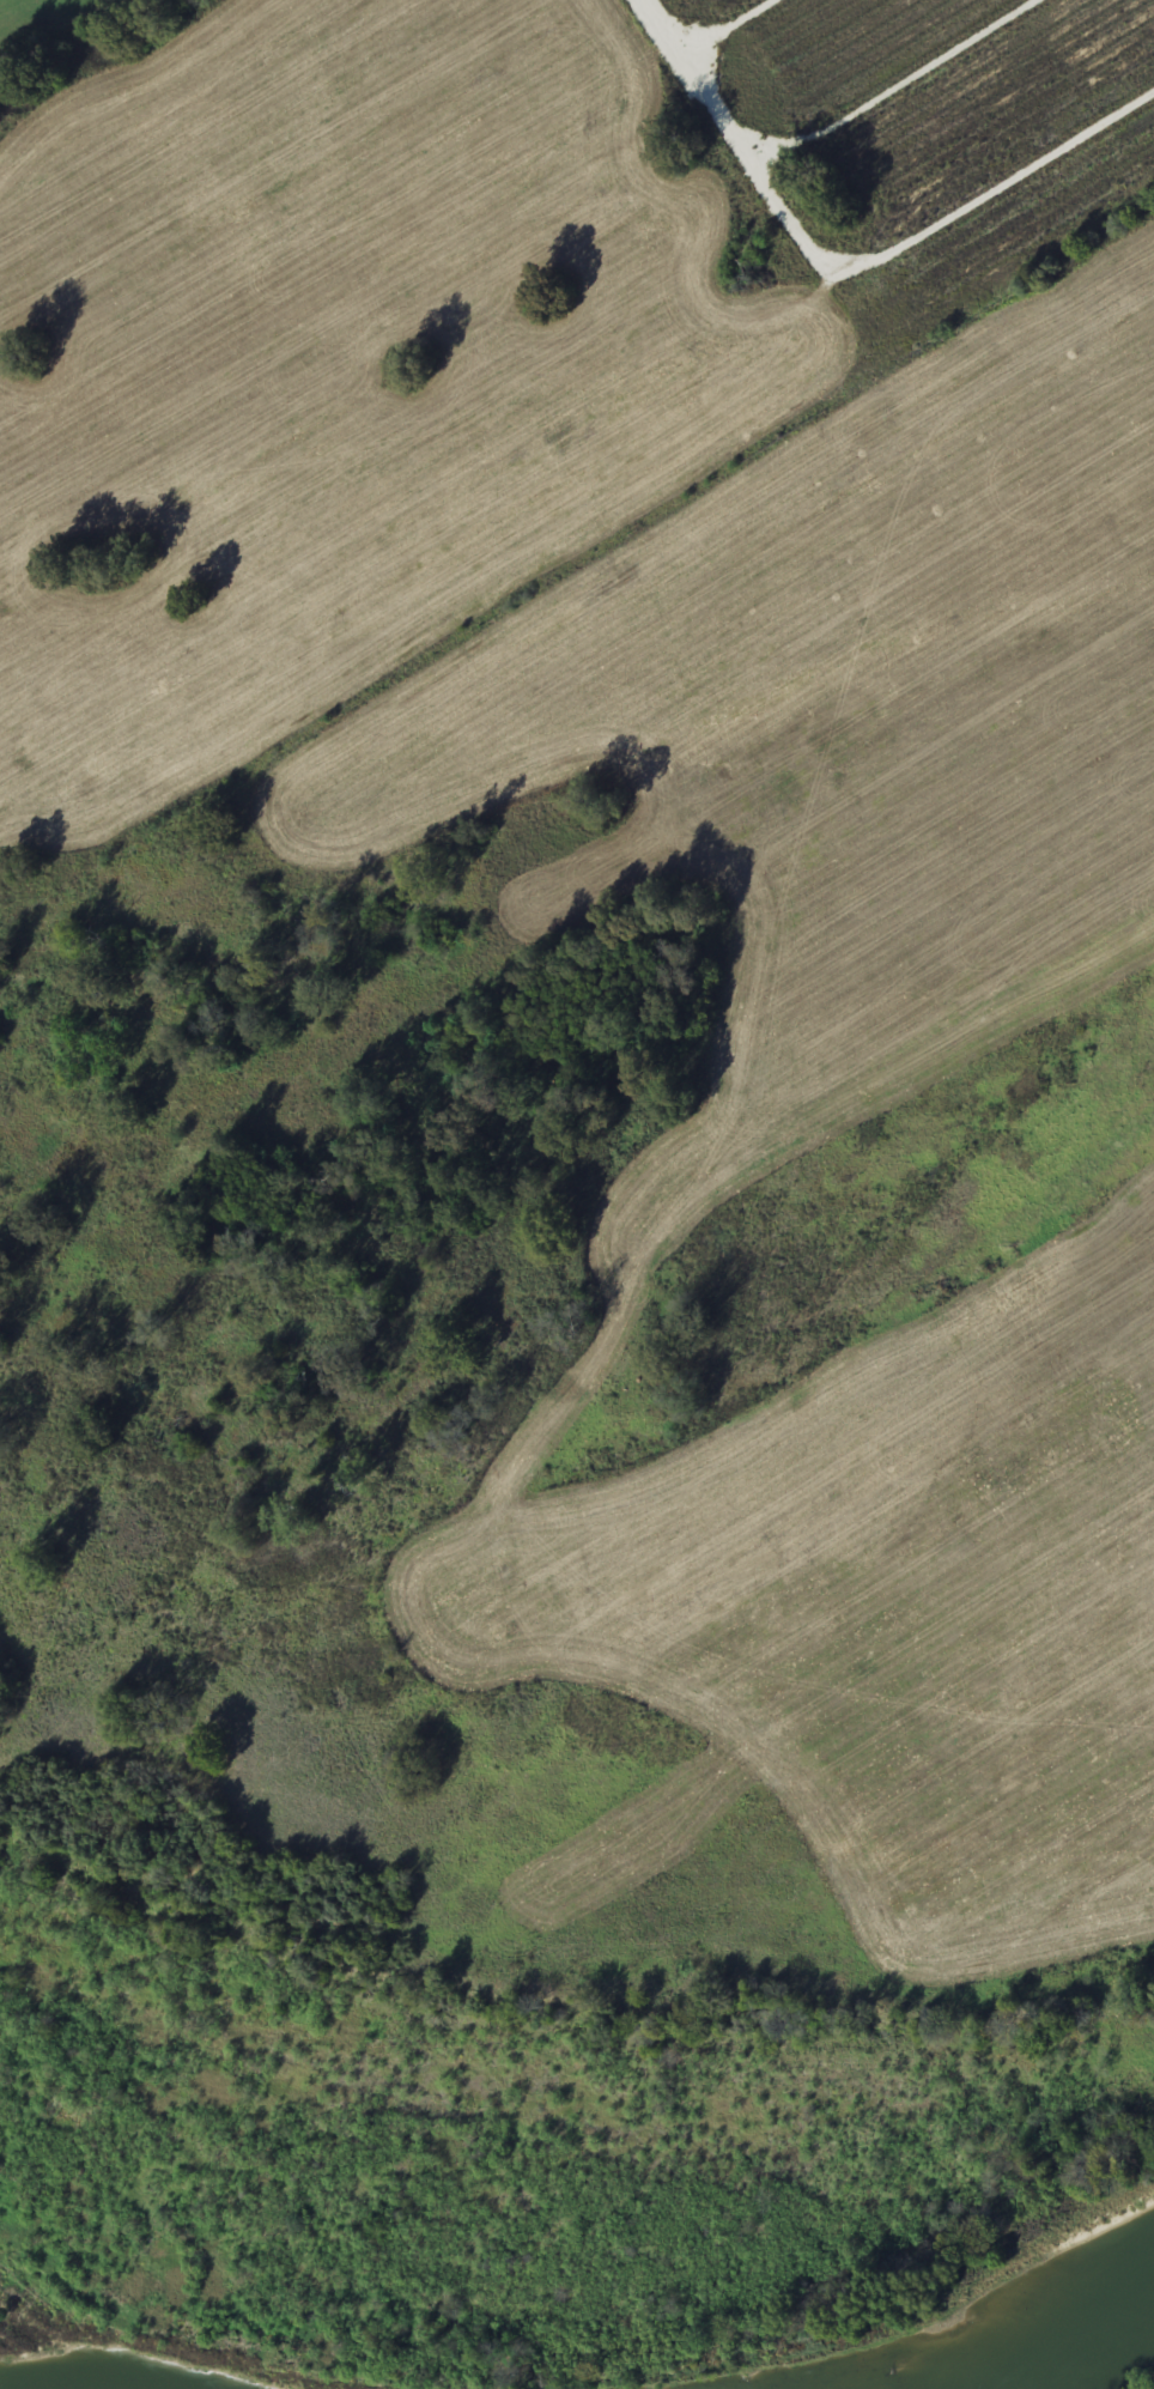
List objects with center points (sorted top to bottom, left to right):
river: (1037, 2327)
river: (53, 2372)

